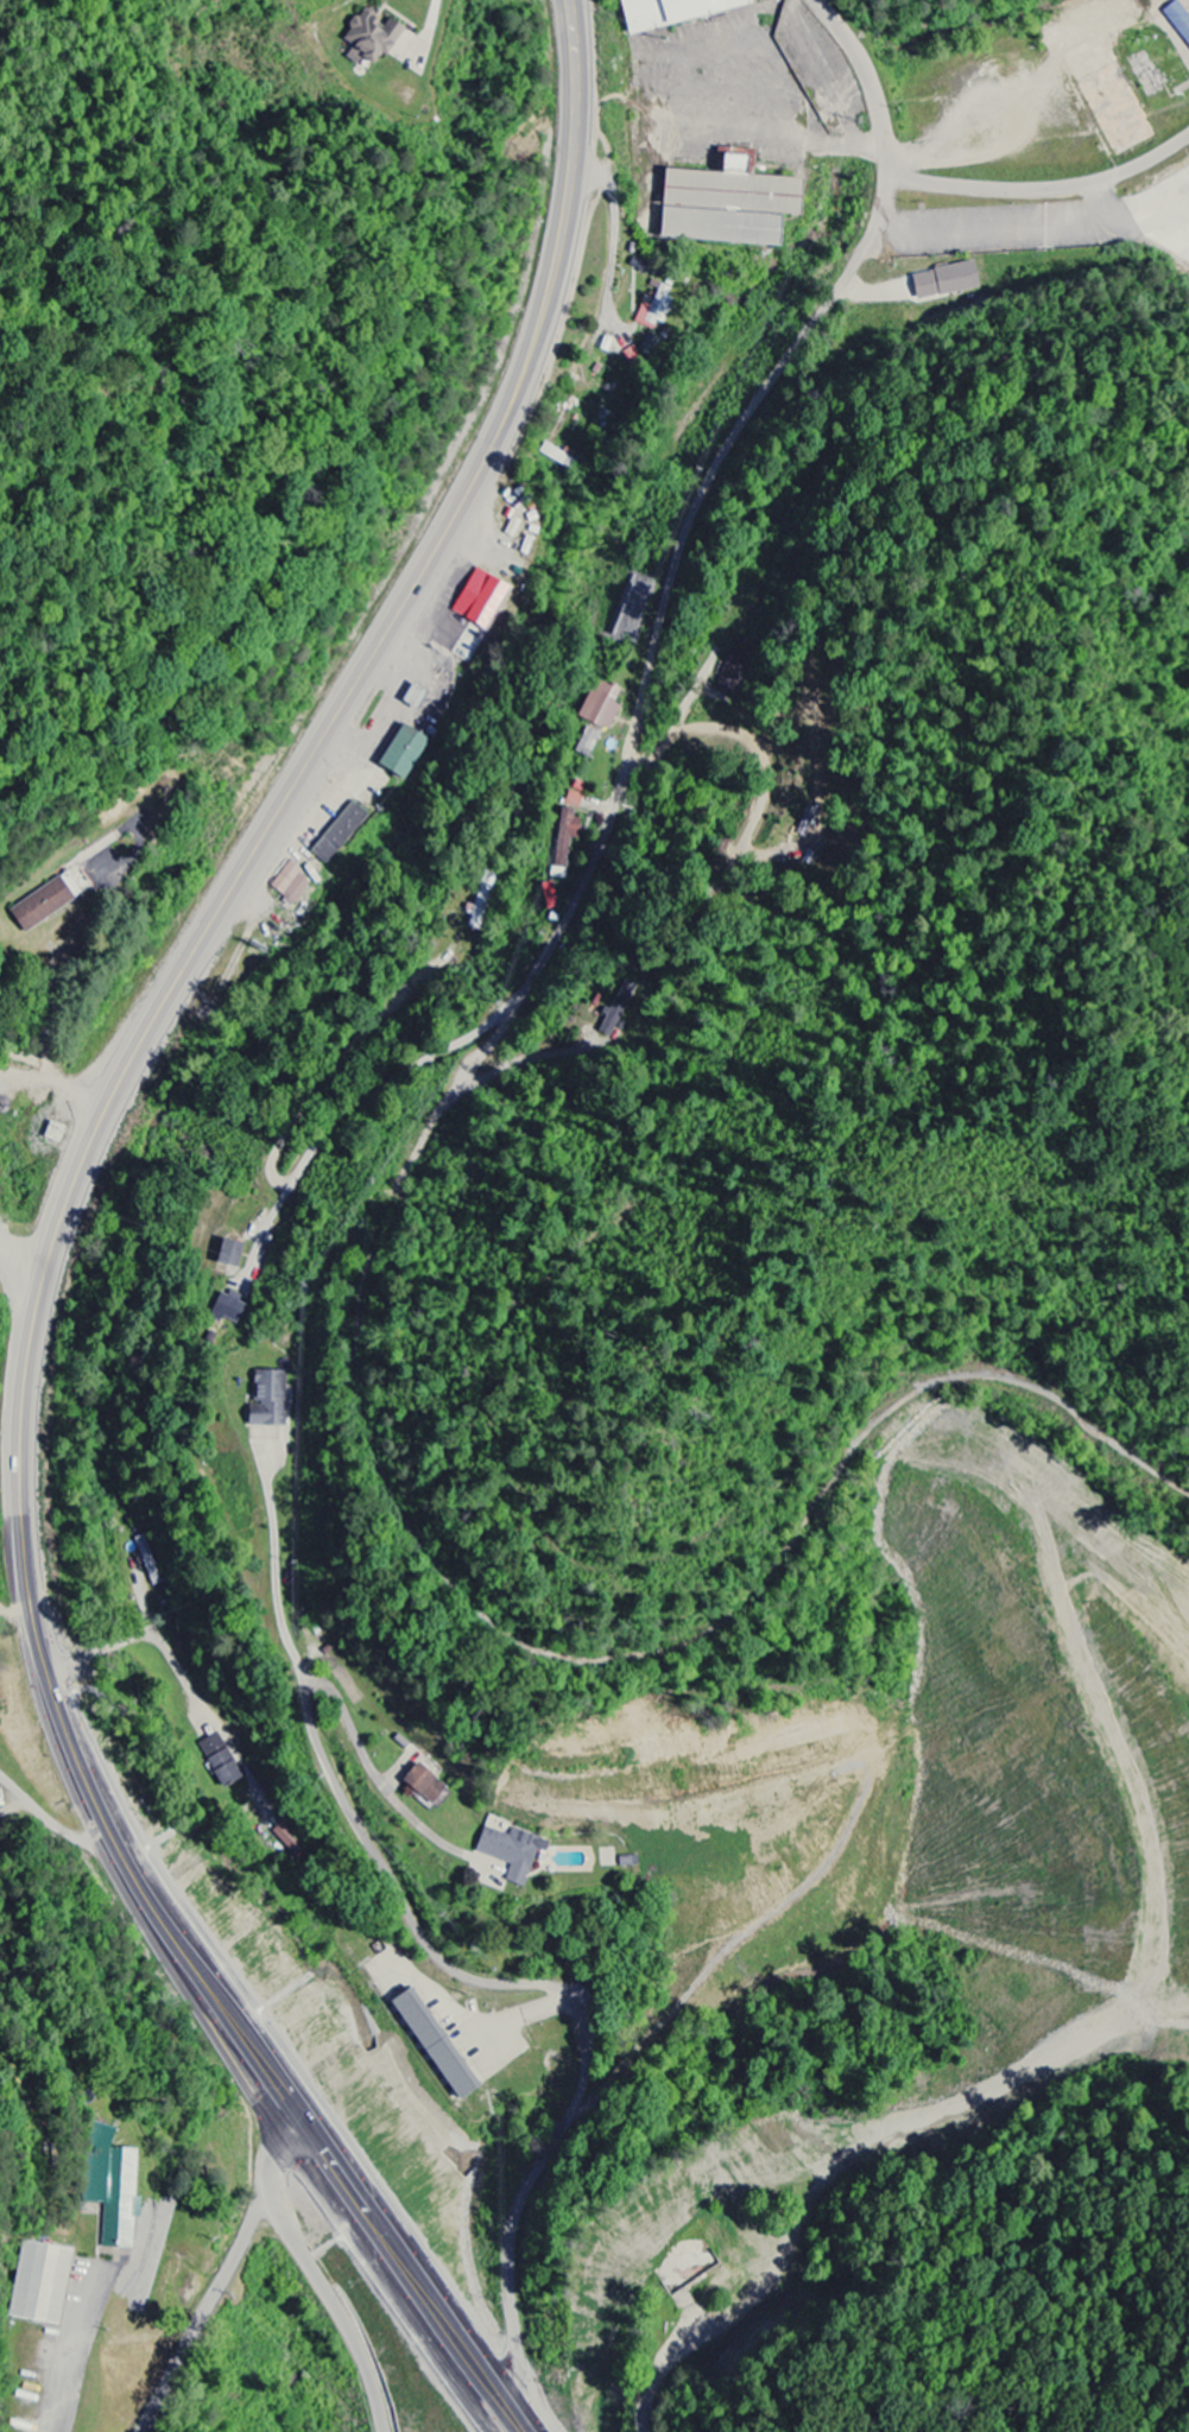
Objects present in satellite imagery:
building: (672, 12)
building: (1178, 20)
road: (1042, 188)
building: (725, 204)
building: (944, 284)
building: (653, 309)
road: (622, 501)
road: (677, 540)
building: (480, 598)
building: (630, 625)
building: (599, 705)
building: (587, 742)
building: (403, 752)
building: (574, 799)
building: (337, 832)
building: (290, 883)
building: (40, 905)
building: (618, 1007)
road: (32, 1057)
road: (29, 1075)
road: (81, 1096)
building: (53, 1132)
road: (272, 1165)
road: (61, 1223)
building: (229, 1254)
building: (228, 1307)
building: (267, 1400)
building: (148, 1560)
building: (219, 1760)
building: (423, 1785)
building: (511, 1851)
building: (627, 1862)
road: (454, 1969)
building: (432, 2044)
building: (112, 2187)
road: (316, 2273)
building: (42, 2284)
road: (207, 2311)

